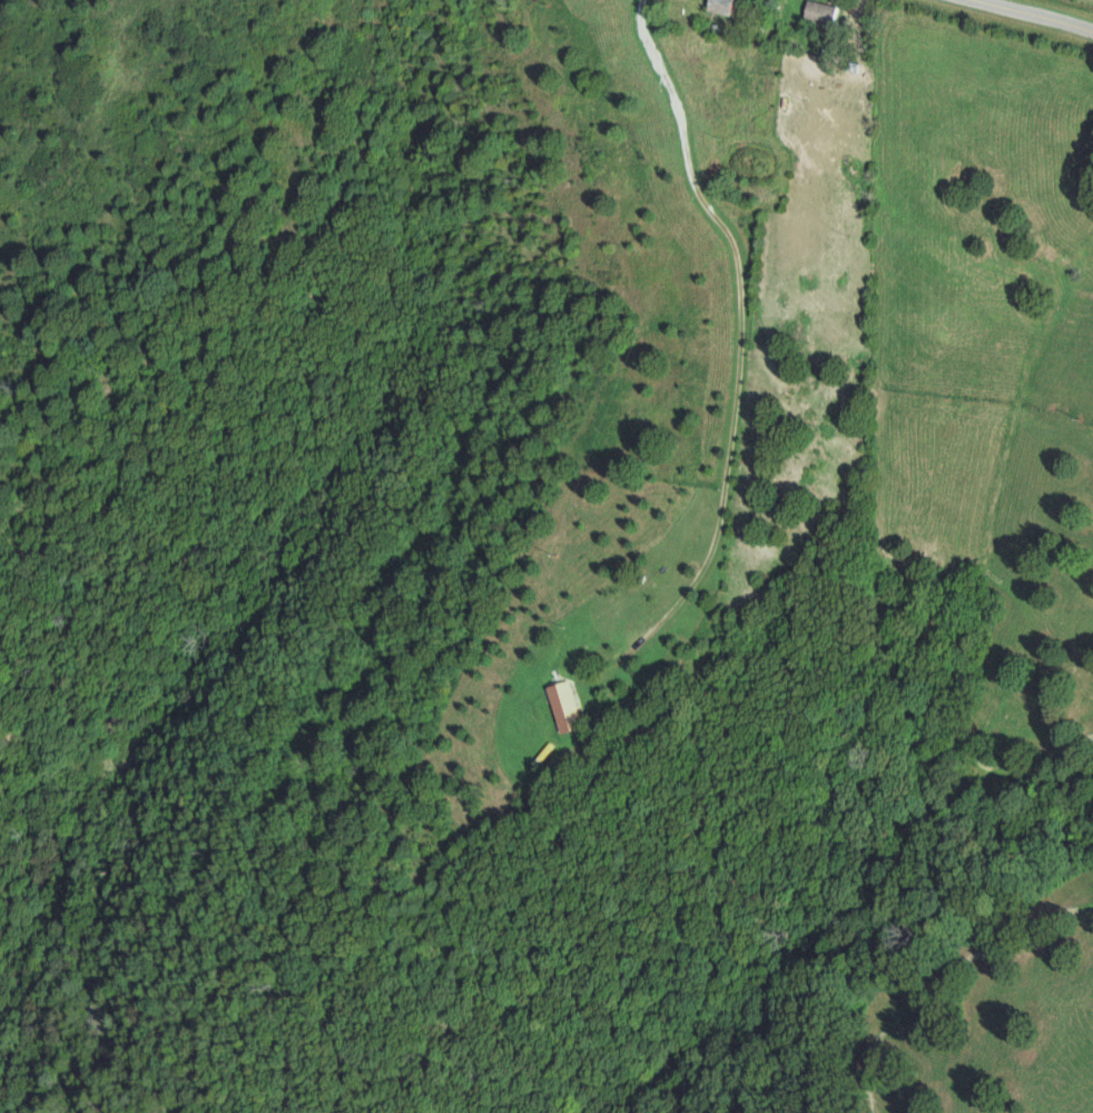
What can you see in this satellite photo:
building: (721, 7)
building: (821, 12)
road: (1018, 18)
road: (846, 20)
road: (739, 297)
building: (568, 707)

